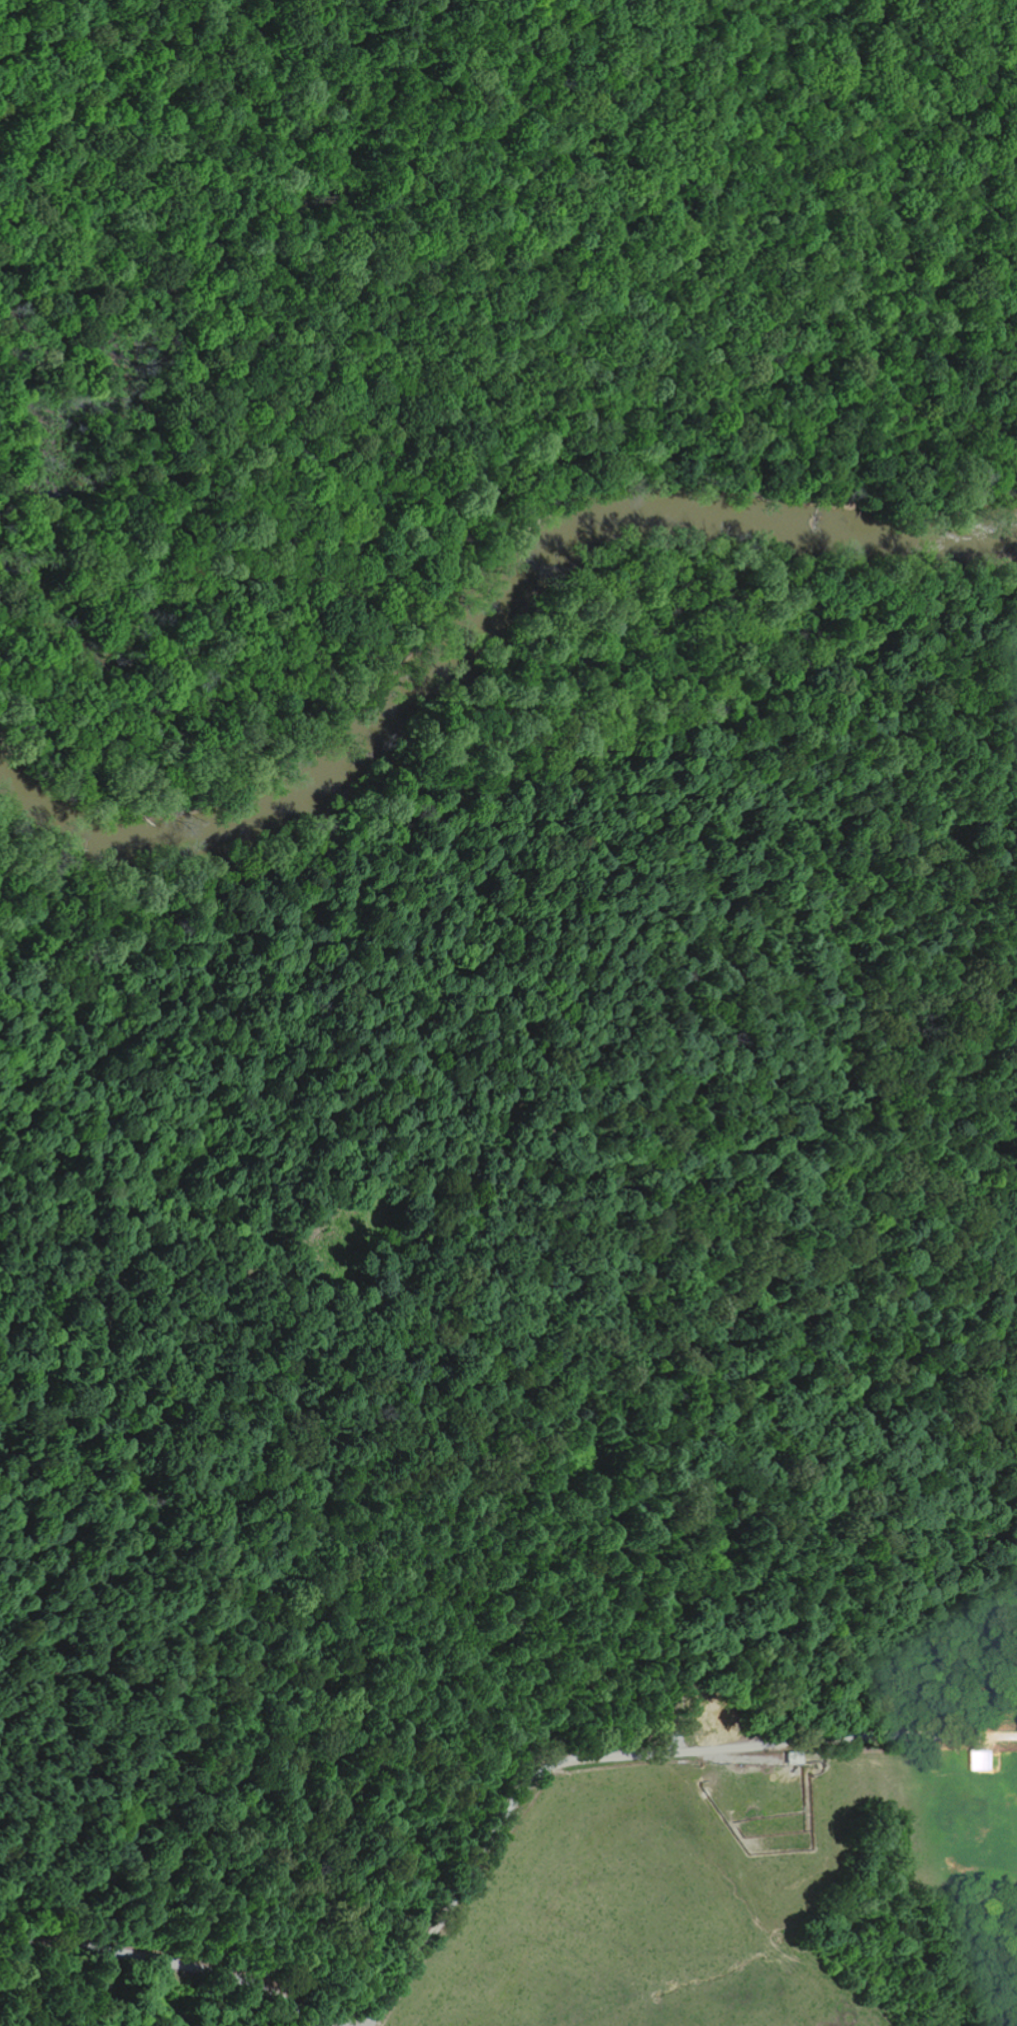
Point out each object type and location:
river: (481, 606)
road: (168, 1954)

